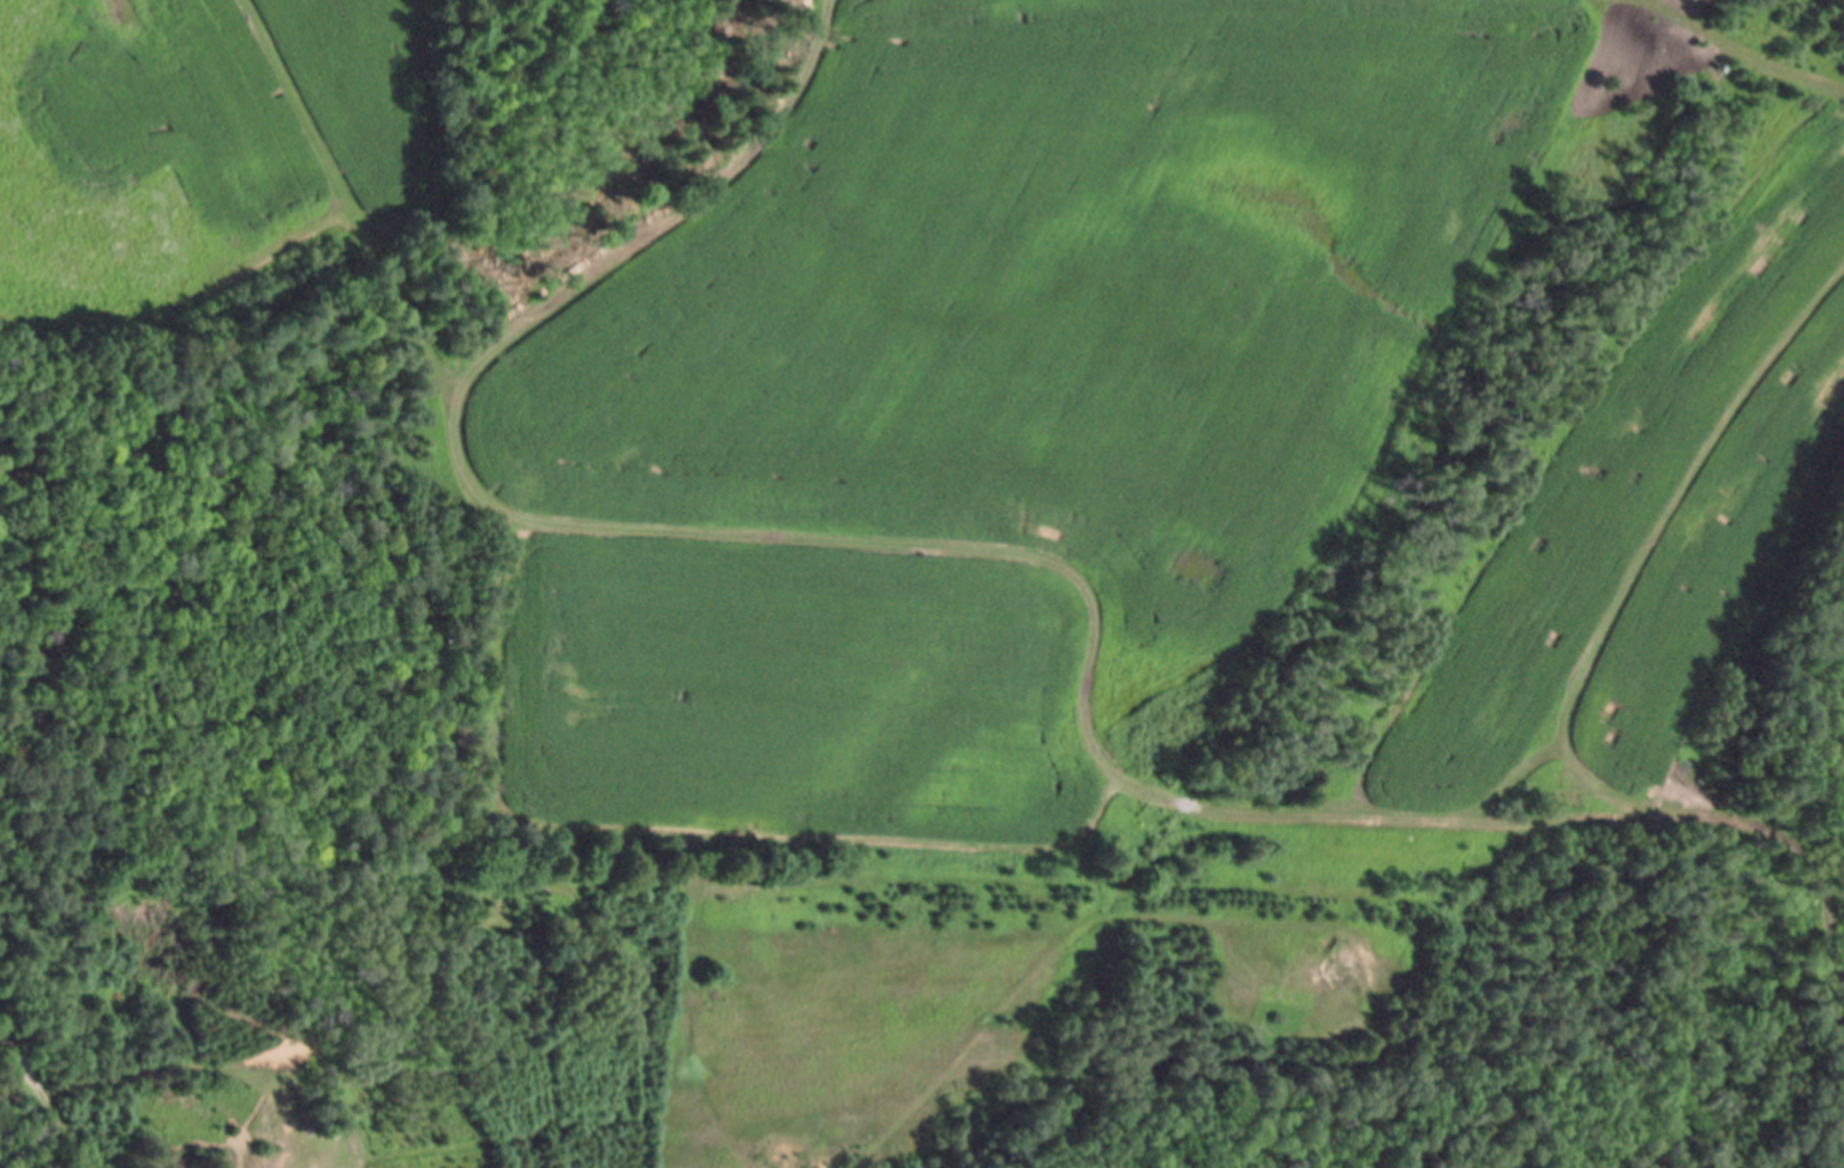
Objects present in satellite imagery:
road: (41, 1098)

